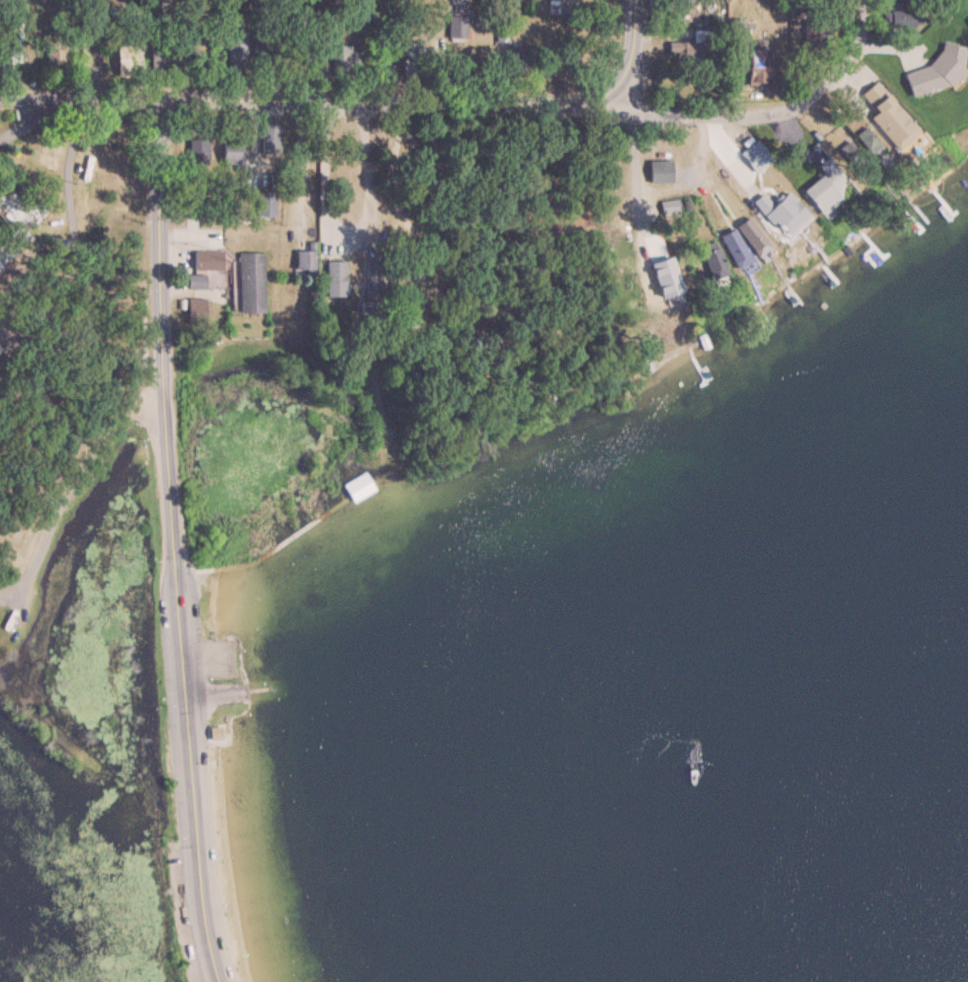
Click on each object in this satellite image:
building: (55, 0)
building: (903, 0)
building: (692, 2)
building: (17, 6)
building: (900, 19)
road: (859, 20)
building: (457, 28)
building: (736, 30)
building: (261, 43)
building: (54, 47)
road: (83, 48)
building: (689, 51)
building: (410, 58)
building: (517, 58)
building: (345, 59)
building: (235, 60)
building: (124, 61)
building: (756, 67)
building: (937, 73)
road: (41, 95)
road: (122, 101)
road: (526, 101)
road: (628, 102)
road: (39, 115)
building: (887, 115)
building: (269, 138)
building: (866, 139)
building: (196, 151)
building: (231, 152)
building: (853, 156)
road: (322, 167)
building: (829, 169)
building: (659, 171)
road: (365, 185)
building: (819, 193)
building: (762, 203)
building: (264, 204)
building: (788, 216)
road: (71, 226)
building: (742, 240)
building: (12, 244)
building: (208, 259)
building: (304, 260)
building: (715, 267)
building: (335, 278)
building: (668, 280)
building: (251, 281)
building: (371, 291)
building: (408, 307)
road: (74, 483)
road: (164, 545)
parking lot: (192, 623)
parking lot: (174, 752)
parking lot: (208, 816)

